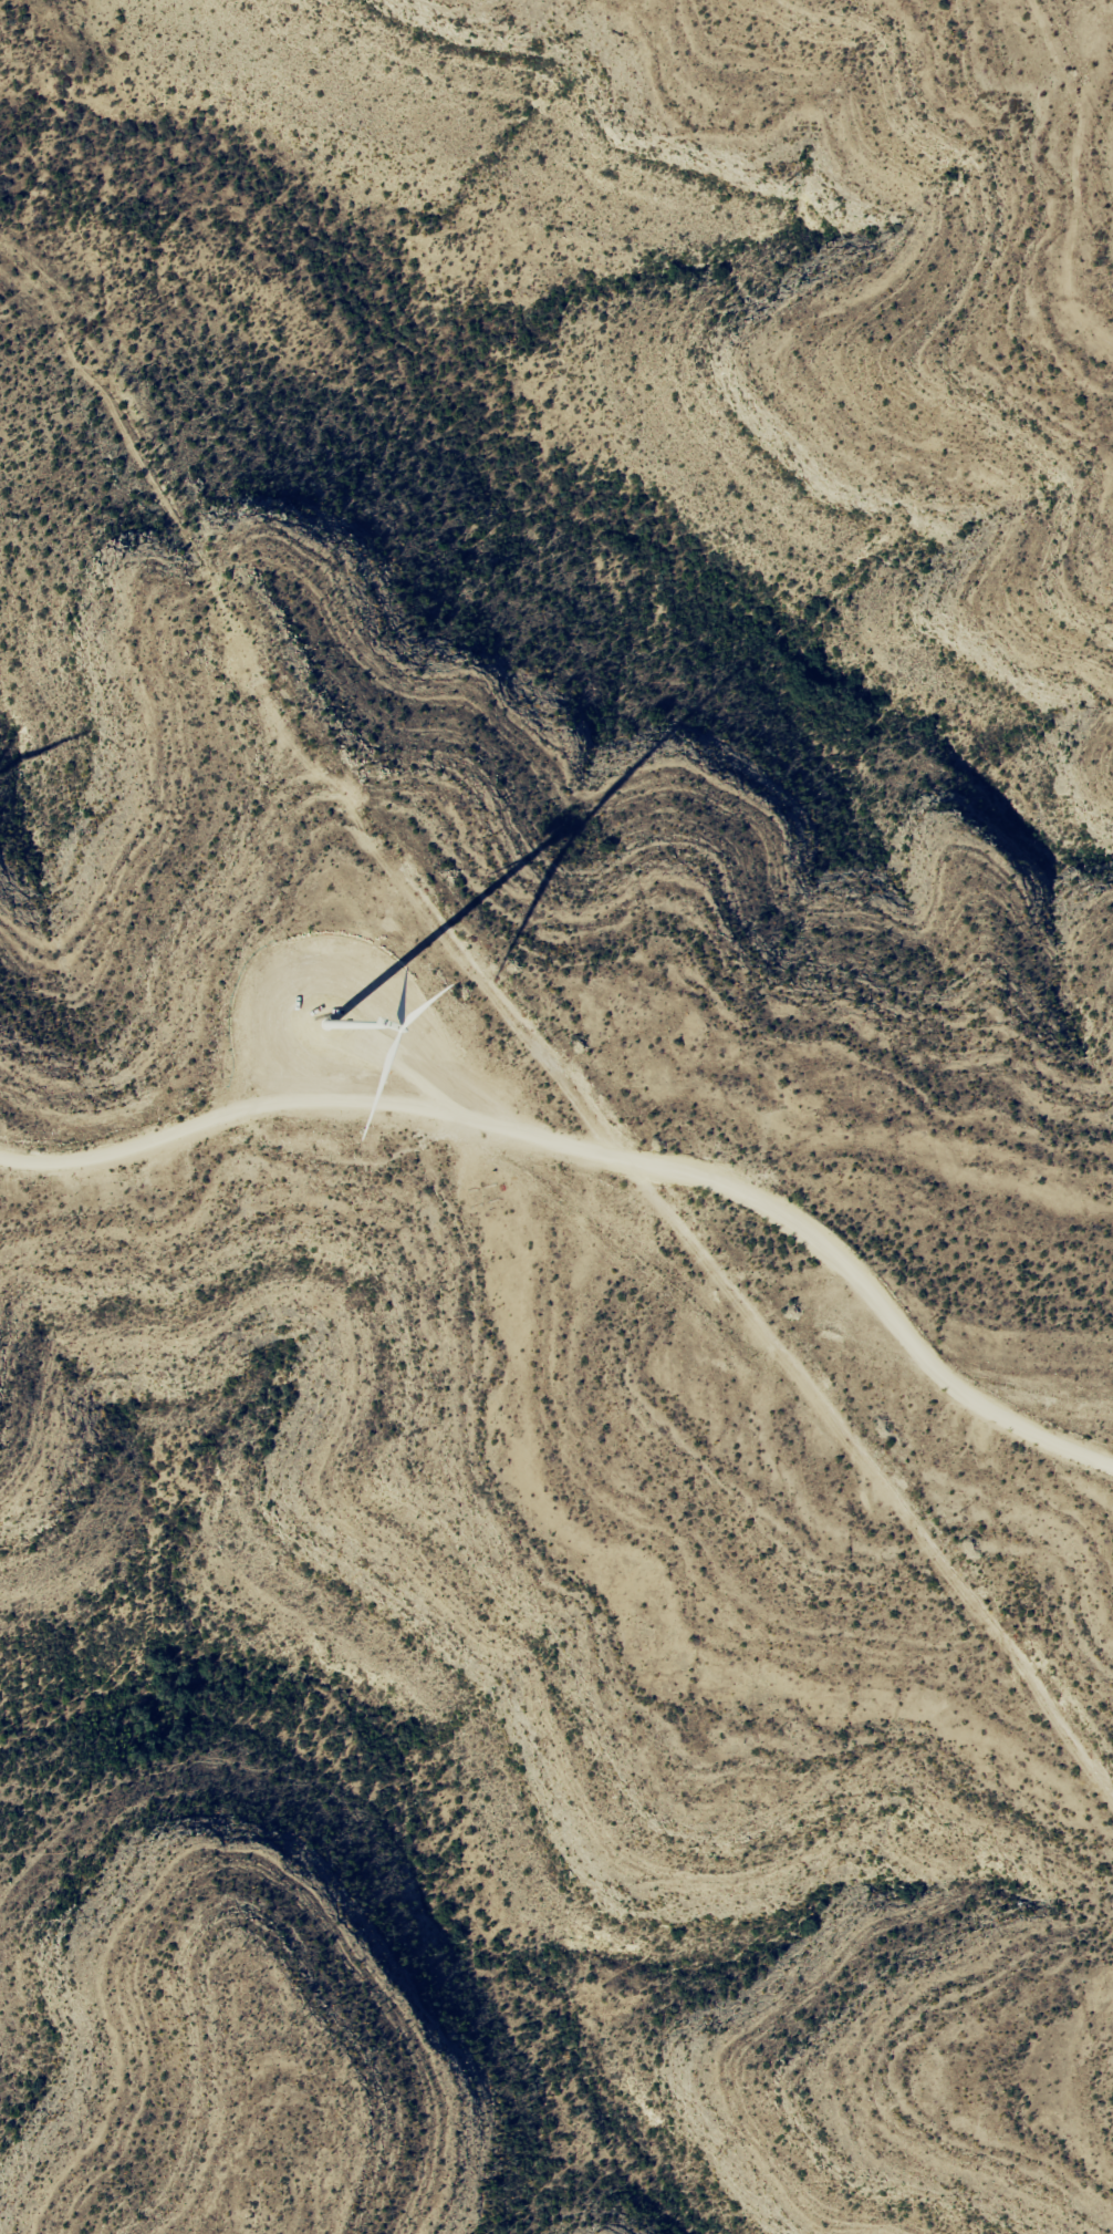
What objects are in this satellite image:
wind turbine: (326, 1026)

